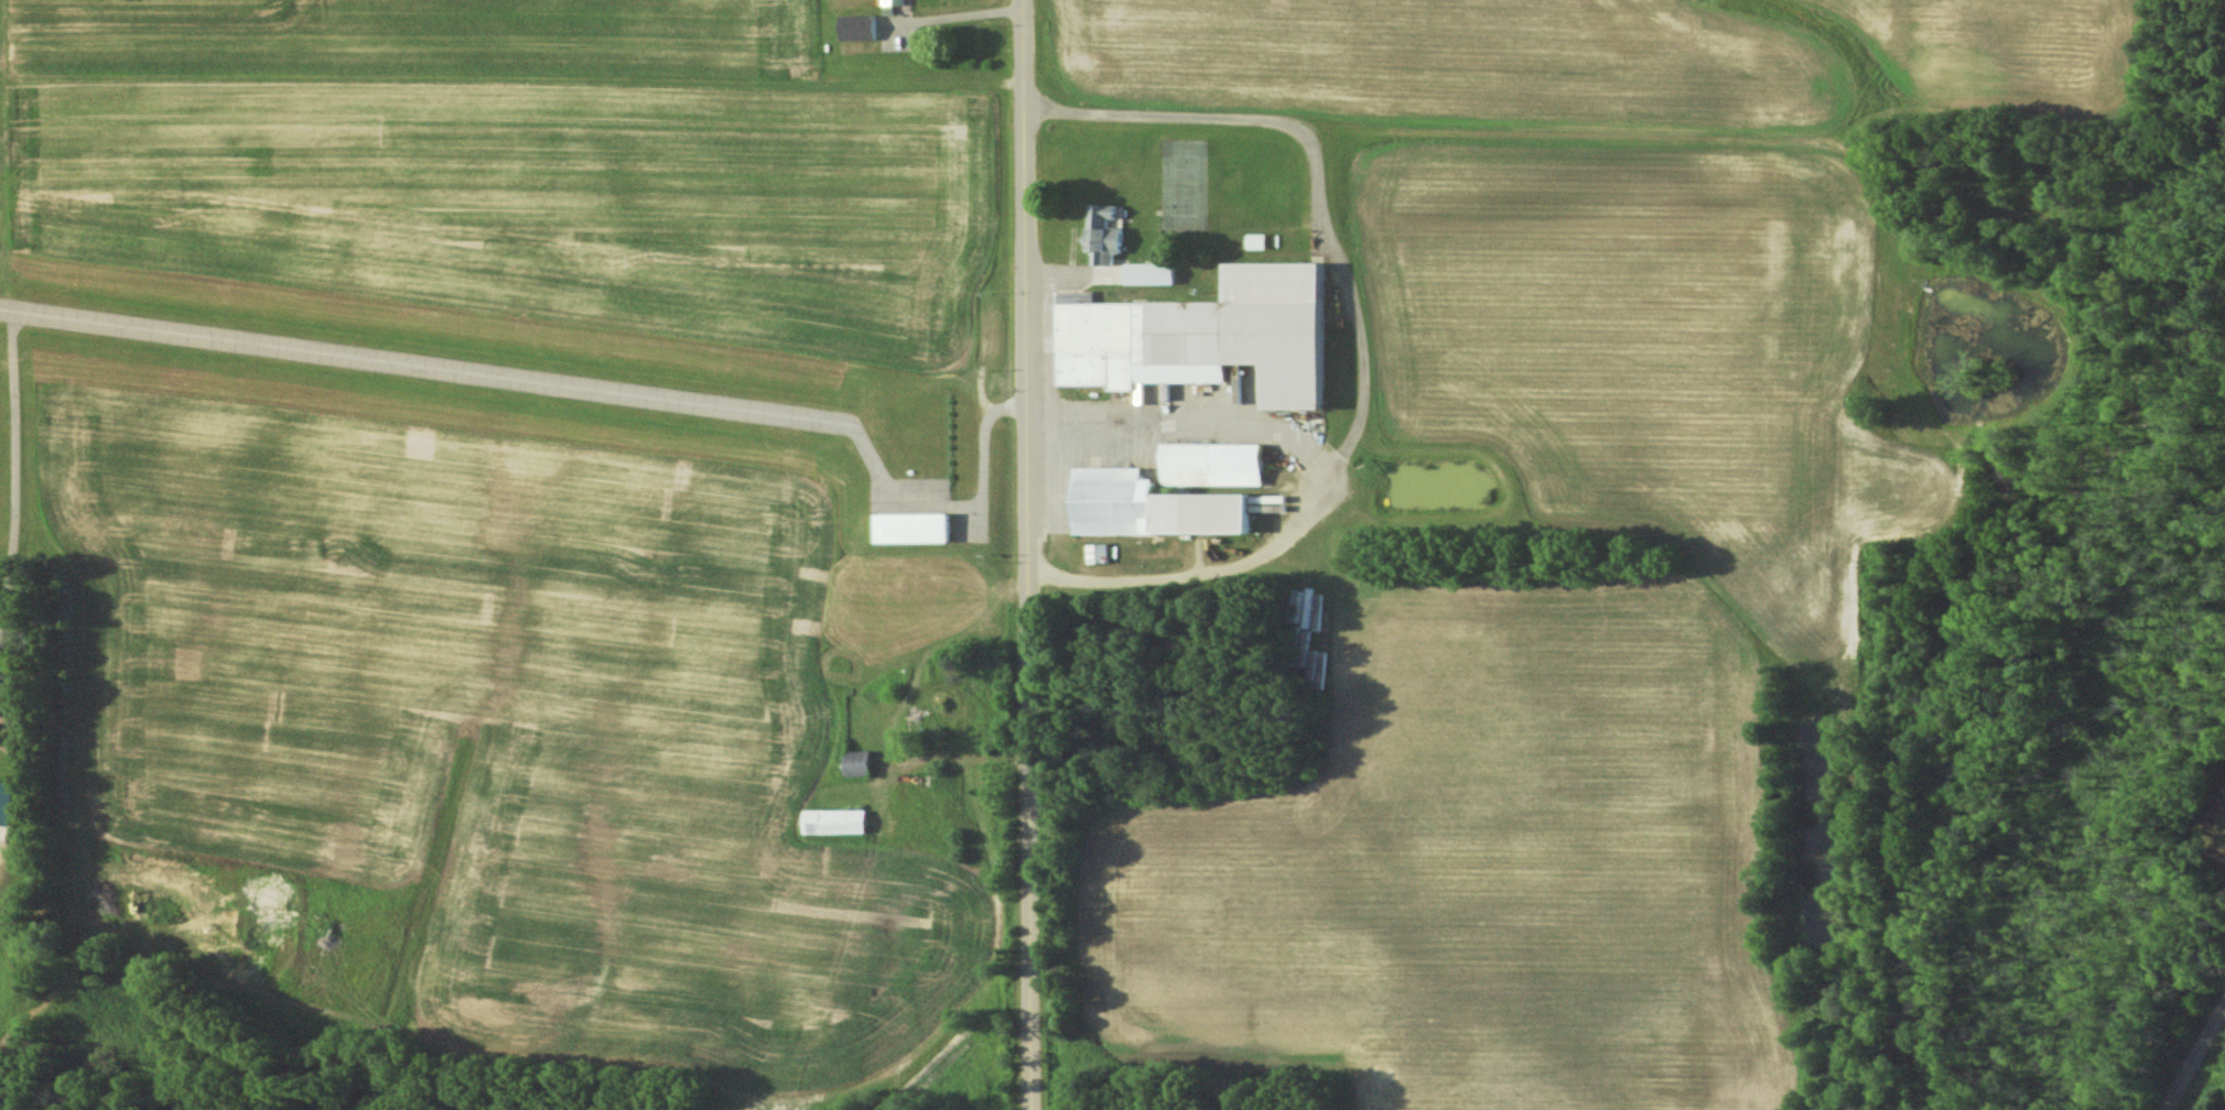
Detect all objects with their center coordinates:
building: (893, 6)
road: (954, 13)
building: (861, 28)
building: (1105, 233)
building: (1257, 240)
building: (1153, 273)
road: (1362, 327)
building: (1210, 335)
airport runway: (430, 371)
road: (1186, 425)
building: (1217, 464)
road: (972, 478)
building: (1157, 505)
building: (918, 527)
building: (1101, 553)
road: (1026, 554)
building: (862, 763)
building: (6, 803)
building: (838, 821)
road: (2194, 1059)

